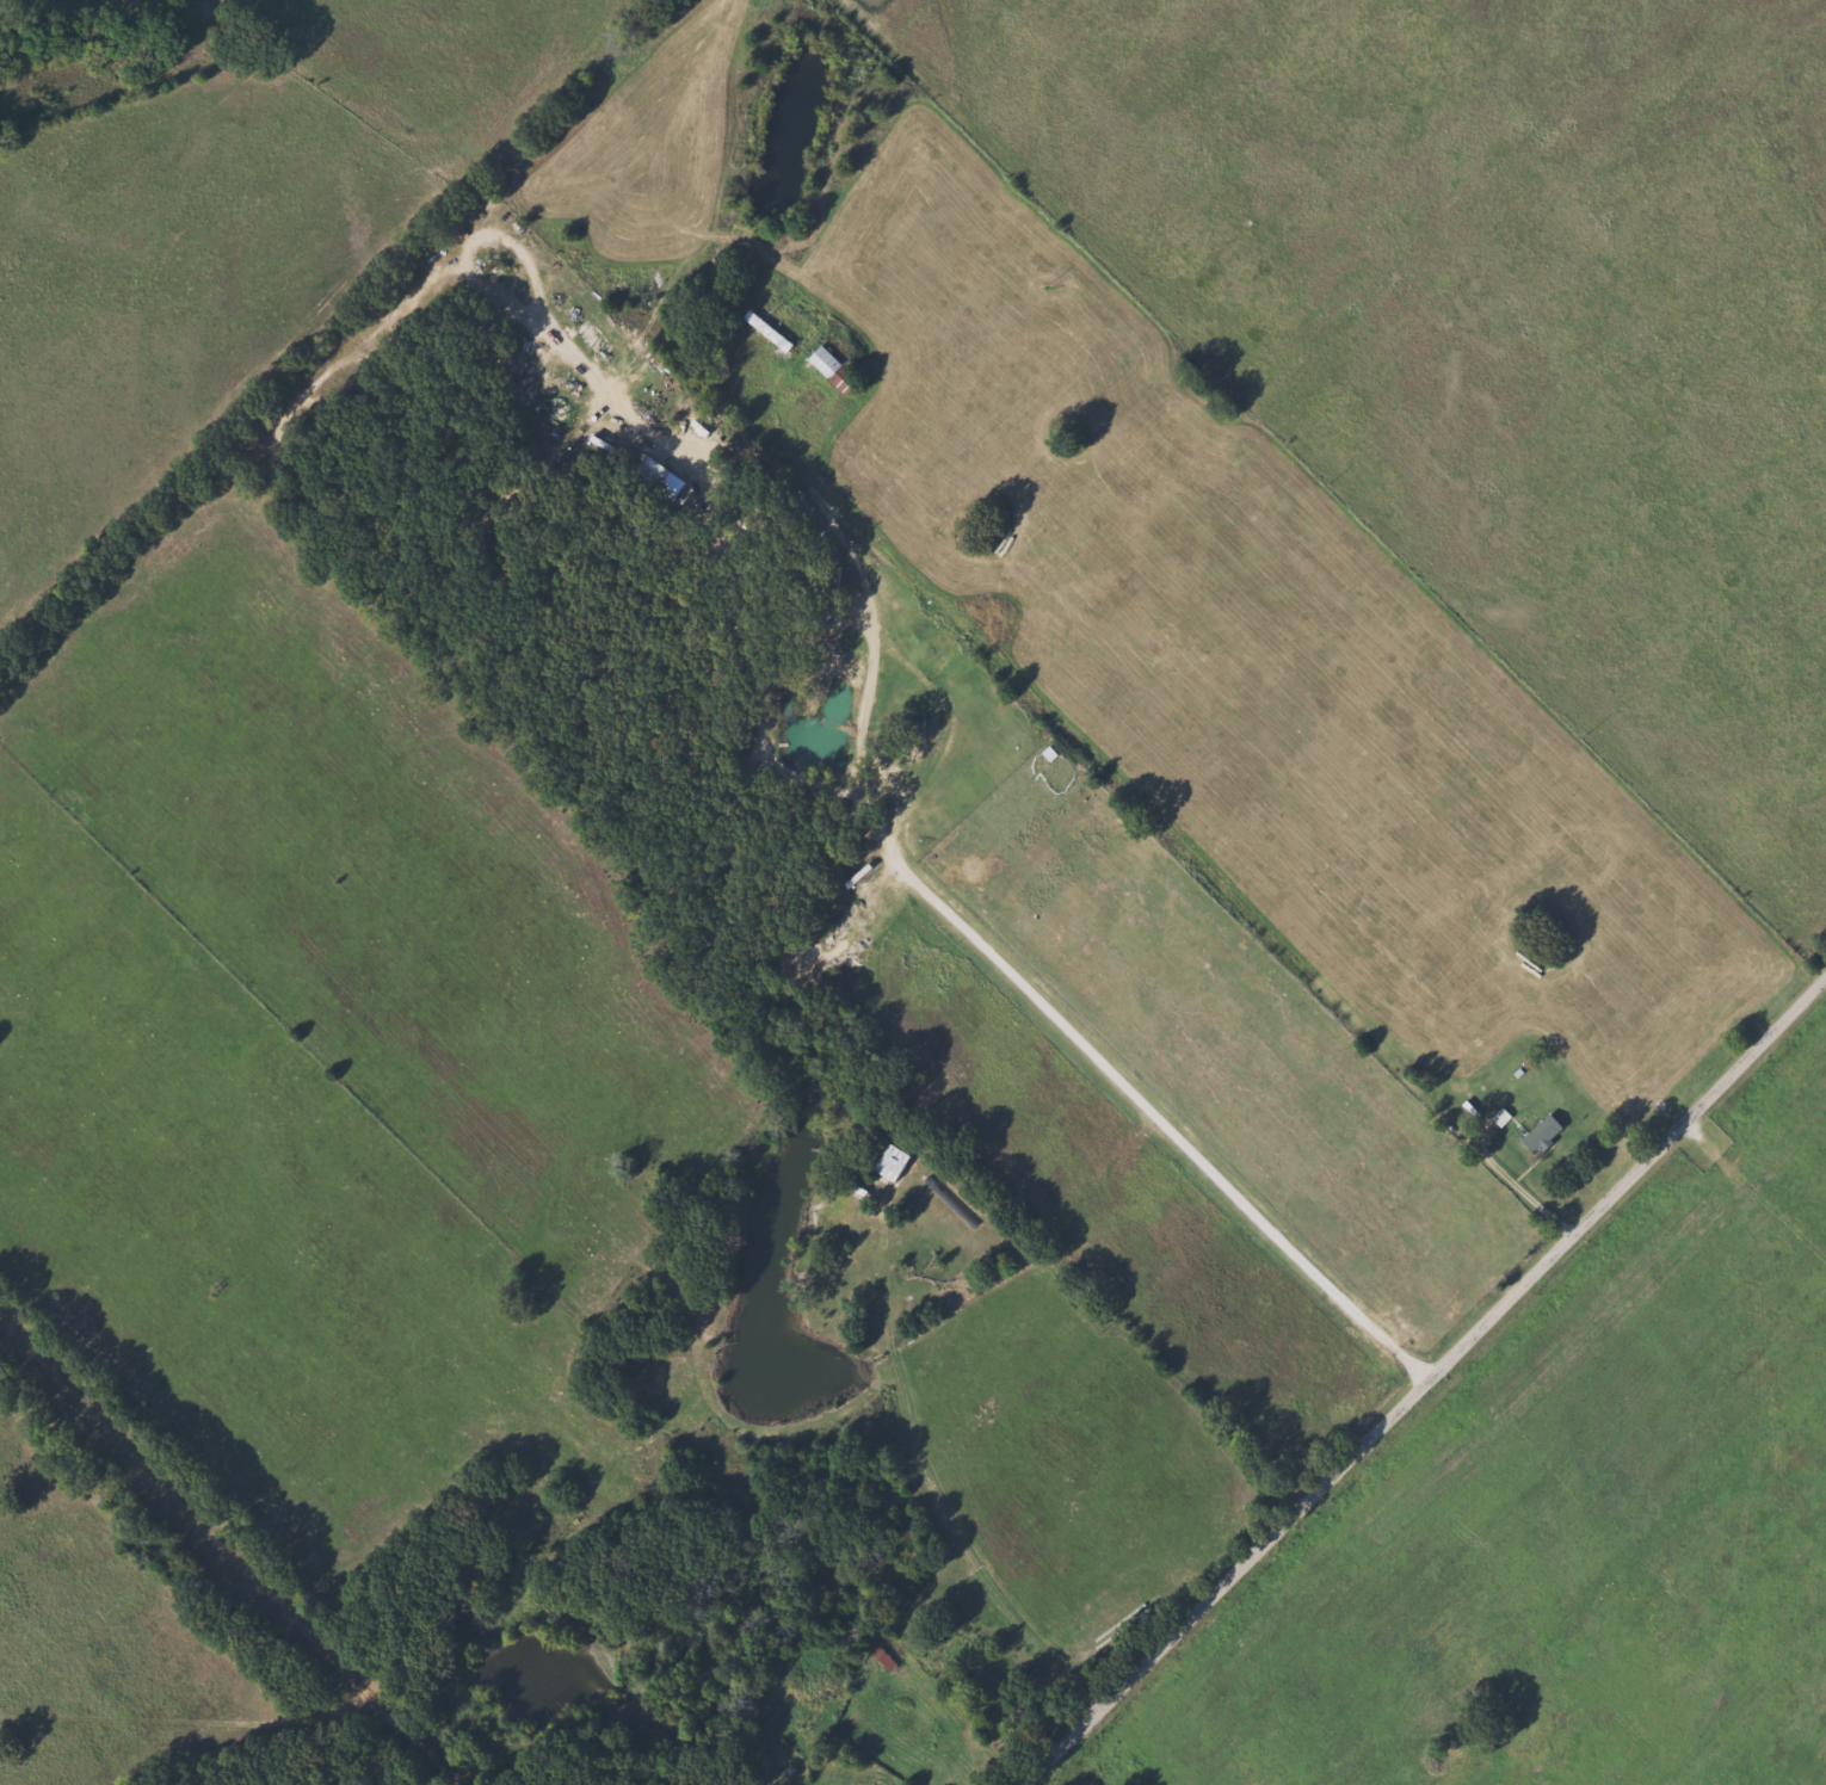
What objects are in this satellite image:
building: (763, 332)
building: (643, 471)
road: (950, 718)
road: (1461, 1123)
building: (1537, 1134)
building: (886, 1163)
road: (1526, 1192)
road: (1423, 1377)
road: (931, 1493)

